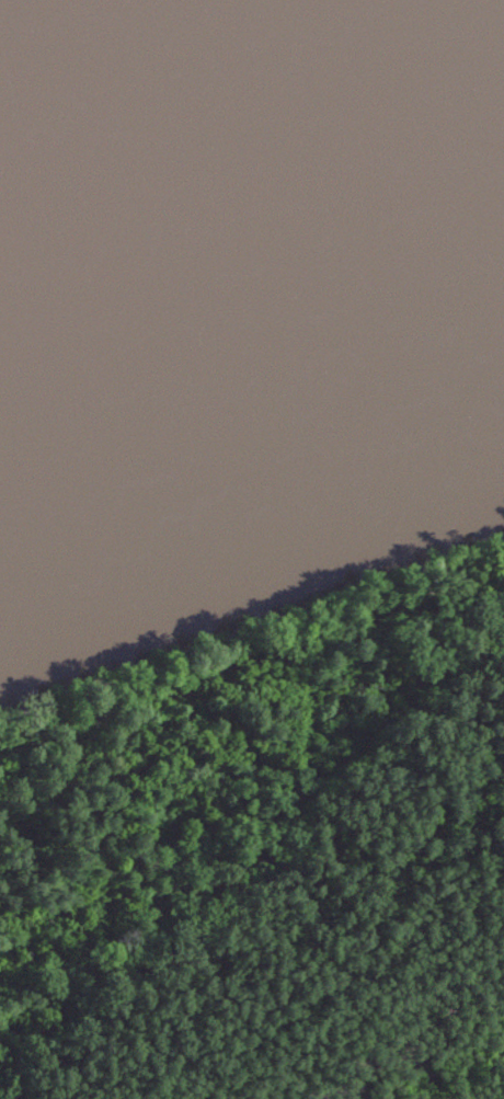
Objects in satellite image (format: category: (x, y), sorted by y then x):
river: (252, 113)

